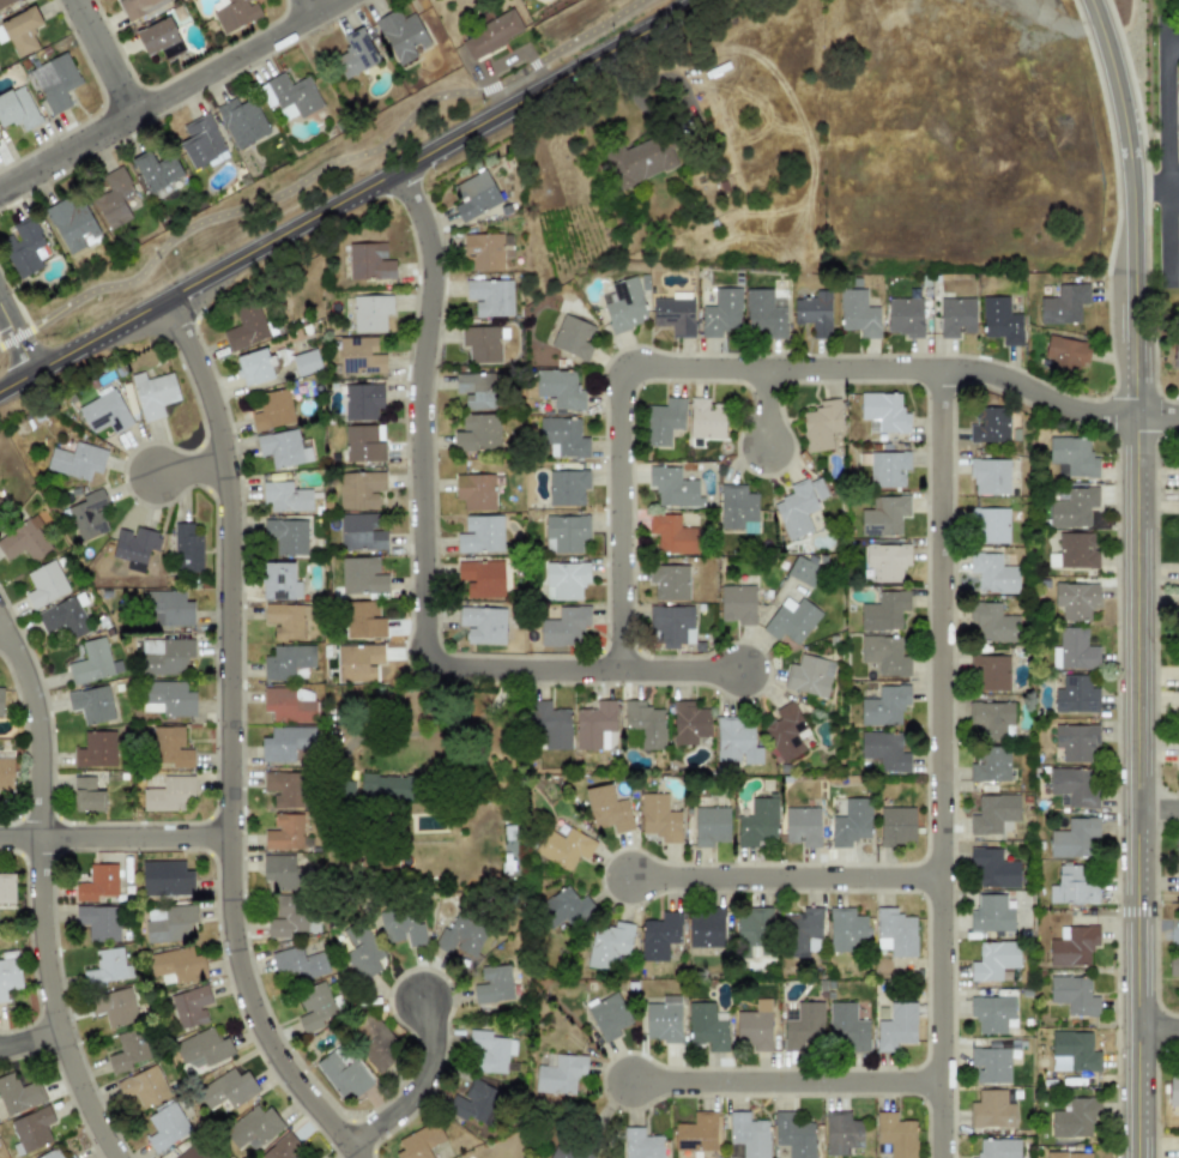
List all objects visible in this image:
building: (5, 2)
road: (316, 4)
building: (137, 7)
building: (235, 13)
building: (20, 31)
building: (490, 35)
building: (401, 36)
building: (159, 38)
road: (1173, 41)
road: (116, 53)
building: (356, 53)
building: (53, 82)
road: (167, 92)
building: (289, 96)
building: (17, 108)
building: (241, 121)
building: (201, 141)
road: (1167, 156)
building: (640, 159)
road: (319, 169)
building: (156, 171)
park: (301, 177)
road: (1155, 187)
building: (473, 194)
road: (346, 195)
building: (114, 197)
building: (72, 224)
building: (23, 247)
building: (483, 251)
building: (1178, 257)
building: (368, 261)
building: (490, 296)
building: (1063, 303)
building: (623, 304)
building: (812, 310)
building: (721, 312)
building: (369, 313)
building: (763, 313)
building: (857, 313)
building: (675, 314)
building: (903, 316)
building: (955, 316)
building: (999, 320)
building: (246, 327)
building: (572, 337)
road: (16, 338)
building: (480, 343)
building: (1175, 351)
building: (1065, 354)
building: (359, 355)
building: (306, 362)
building: (254, 366)
road: (751, 367)
building: (558, 387)
building: (477, 390)
building: (152, 393)
building: (361, 399)
road: (766, 405)
building: (272, 410)
building: (883, 411)
building: (104, 412)
building: (706, 420)
building: (663, 421)
building: (821, 424)
building: (988, 424)
building: (477, 433)
building: (562, 436)
building: (363, 442)
road: (1087, 447)
building: (288, 448)
building: (1071, 457)
building: (77, 460)
road: (189, 468)
building: (884, 468)
building: (1178, 471)
building: (990, 476)
building: (567, 487)
building: (672, 487)
building: (359, 489)
building: (817, 489)
building: (474, 491)
building: (285, 496)
building: (1, 505)
building: (1072, 507)
building: (1178, 507)
building: (737, 508)
building: (794, 509)
building: (87, 514)
building: (883, 515)
building: (988, 525)
building: (361, 531)
building: (564, 533)
building: (670, 533)
building: (285, 535)
building: (479, 535)
building: (24, 541)
building: (134, 547)
building: (186, 548)
building: (1074, 550)
building: (885, 561)
building: (1178, 562)
building: (804, 568)
road: (423, 572)
building: (992, 573)
building: (361, 575)
road: (1135, 575)
building: (480, 578)
building: (279, 580)
building: (564, 580)
building: (669, 581)
building: (44, 584)
building: (1075, 599)
building: (737, 604)
building: (165, 609)
building: (883, 610)
building: (65, 616)
building: (285, 620)
building: (362, 620)
building: (791, 620)
building: (992, 622)
building: (482, 625)
building: (671, 625)
building: (563, 626)
building: (1074, 650)
building: (884, 655)
building: (164, 656)
building: (92, 662)
building: (357, 662)
building: (284, 663)
building: (1178, 671)
building: (988, 673)
building: (809, 676)
building: (1075, 694)
building: (0, 699)
building: (167, 699)
building: (91, 704)
building: (288, 705)
building: (1178, 705)
building: (883, 706)
building: (991, 720)
building: (689, 722)
building: (594, 724)
building: (645, 724)
building: (549, 725)
building: (785, 731)
road: (229, 740)
building: (1074, 740)
building: (736, 741)
building: (285, 743)
building: (170, 747)
building: (98, 749)
building: (883, 752)
building: (1178, 760)
road: (939, 764)
building: (990, 764)
building: (6, 773)
building: (387, 788)
building: (1071, 788)
building: (284, 789)
building: (86, 794)
building: (168, 794)
building: (606, 808)
road: (1157, 808)
building: (993, 813)
building: (659, 818)
building: (851, 822)
building: (757, 824)
building: (711, 825)
building: (896, 825)
building: (802, 826)
building: (284, 832)
road: (115, 837)
building: (1072, 838)
building: (563, 846)
building: (1177, 864)
building: (993, 868)
building: (285, 873)
building: (165, 876)
road: (784, 876)
building: (97, 882)
road: (42, 885)
building: (1072, 885)
building: (6, 888)
building: (563, 909)
building: (990, 913)
building: (288, 916)
building: (98, 921)
building: (168, 923)
building: (401, 927)
building: (706, 930)
building: (754, 930)
building: (846, 930)
building: (802, 931)
building: (895, 933)
building: (659, 935)
building: (459, 936)
building: (607, 945)
building: (1072, 945)
building: (362, 951)
building: (993, 960)
building: (176, 964)
building: (297, 964)
building: (107, 966)
building: (1175, 966)
building: (8, 972)
building: (492, 984)
building: (1072, 995)
building: (189, 1005)
building: (114, 1006)
building: (315, 1007)
building: (991, 1013)
building: (607, 1014)
building: (663, 1019)
building: (803, 1025)
building: (706, 1026)
building: (754, 1026)
building: (896, 1026)
road: (1157, 1026)
building: (846, 1027)
road: (30, 1036)
building: (376, 1043)
building: (201, 1049)
building: (127, 1050)
building: (491, 1051)
building: (1072, 1051)
building: (990, 1064)
building: (560, 1073)
road: (784, 1080)
road: (419, 1084)
building: (144, 1086)
building: (1173, 1088)
building: (226, 1090)
building: (18, 1093)
building: (473, 1104)
building: (990, 1110)
building: (1075, 1117)
building: (165, 1127)
building: (253, 1128)
building: (31, 1129)
building: (695, 1133)
building: (841, 1133)
building: (895, 1134)
building: (793, 1135)
building: (746, 1136)
building: (418, 1141)
building: (641, 1144)
building: (282, 1148)
building: (998, 1148)
building: (193, 1152)
building: (561, 1153)
building: (50, 1154)
building: (1068, 1154)
building: (1178, 1156)
building: (72, 1157)

